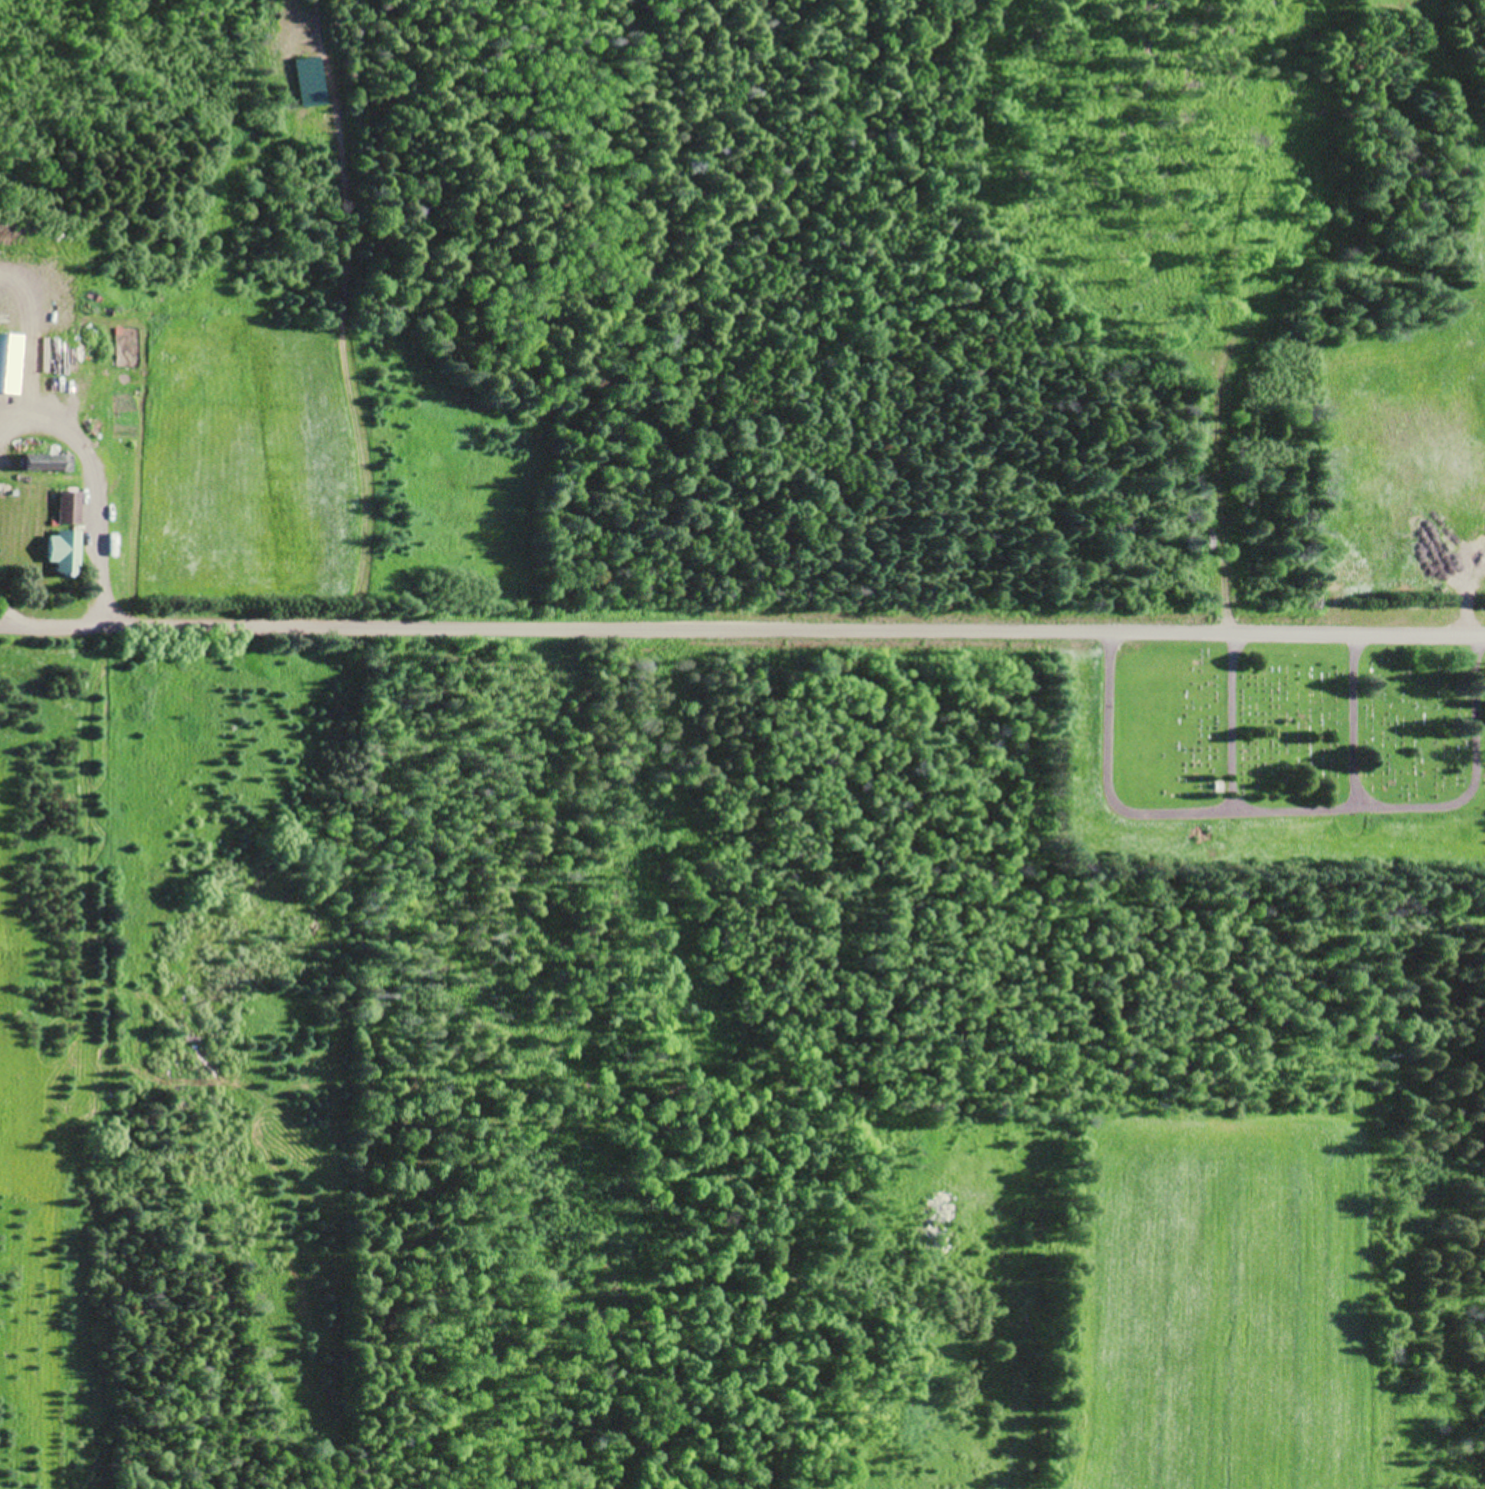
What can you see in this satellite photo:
building: (307, 80)
building: (8, 361)
building: (46, 462)
building: (70, 507)
building: (65, 551)
road: (742, 636)
park: (1271, 753)

